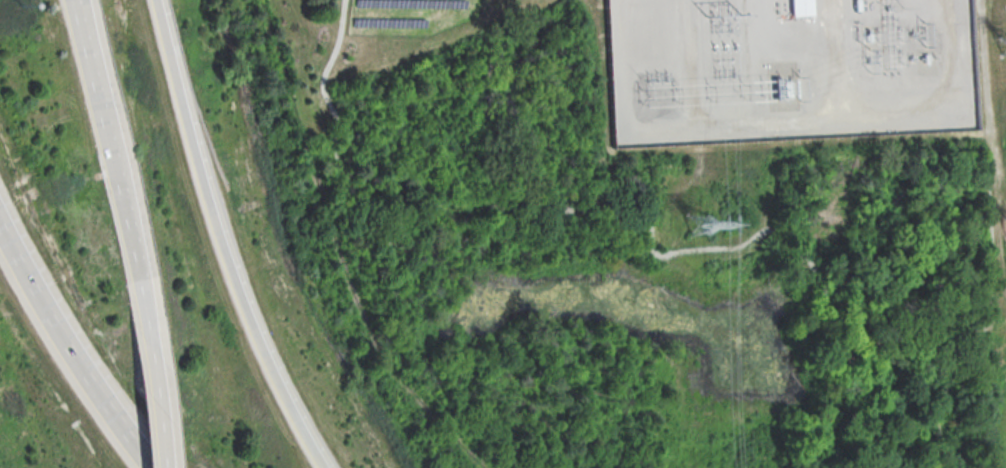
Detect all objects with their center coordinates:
road: (79, 6)
road: (80, 6)
building: (803, 7)
road: (760, 21)
road: (684, 24)
power substation: (786, 69)
road: (893, 108)
road: (115, 180)
power tower: (695, 223)
road: (220, 241)
road: (683, 248)
road: (71, 348)
road: (843, 388)
road: (156, 408)
road: (935, 418)

